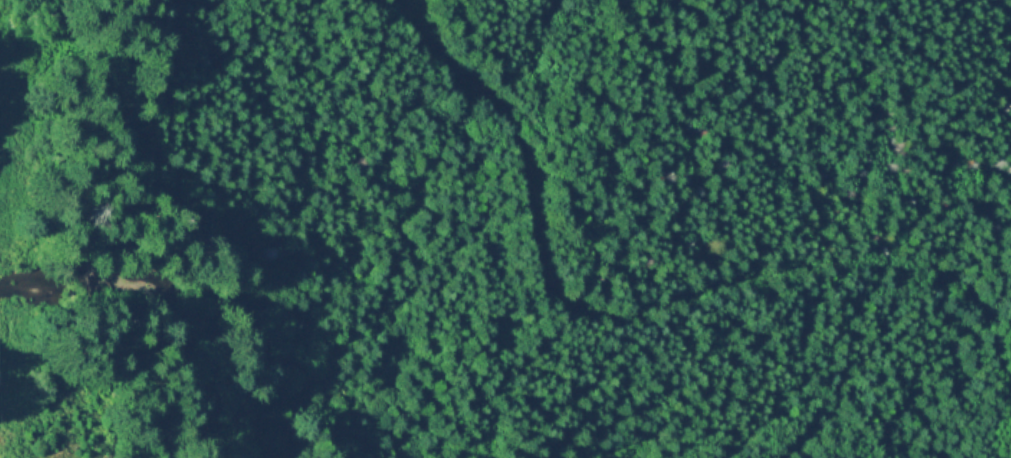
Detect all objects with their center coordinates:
river: (24, 23)
road: (646, 308)
river: (222, 317)
road: (4, 345)
road: (4, 385)

